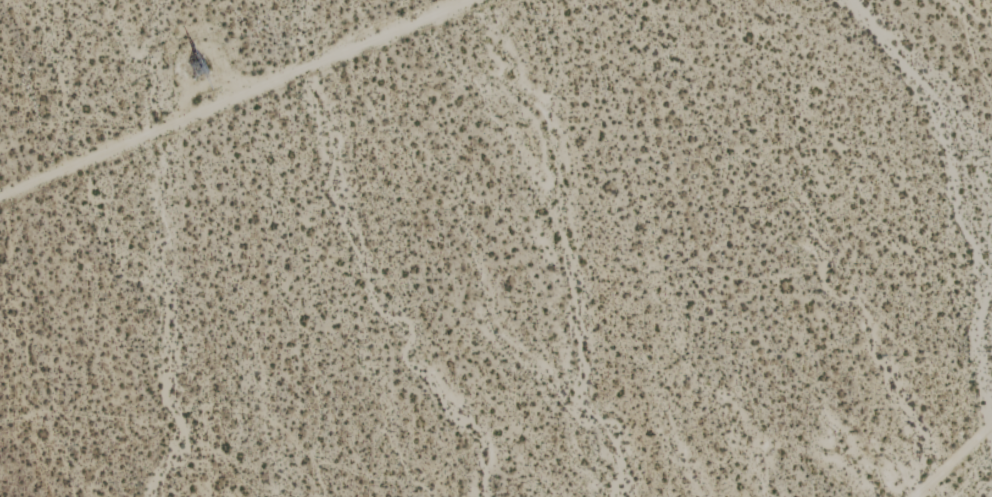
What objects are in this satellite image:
power tower: (198, 70)
road: (231, 97)

